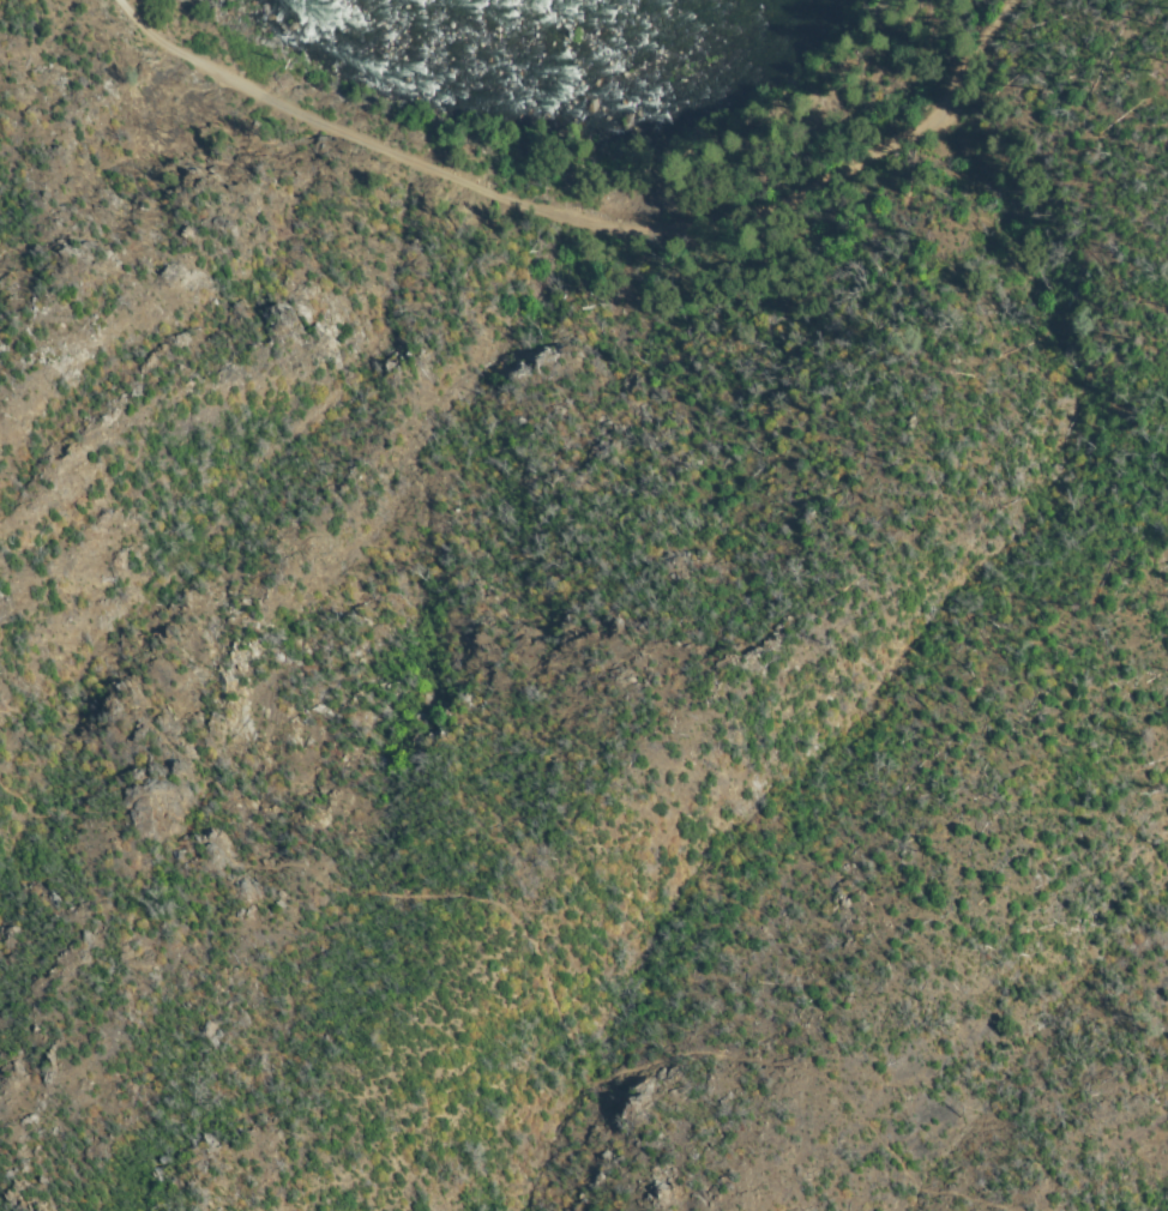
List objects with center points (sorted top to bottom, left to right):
river: (555, 47)
road: (579, 223)

